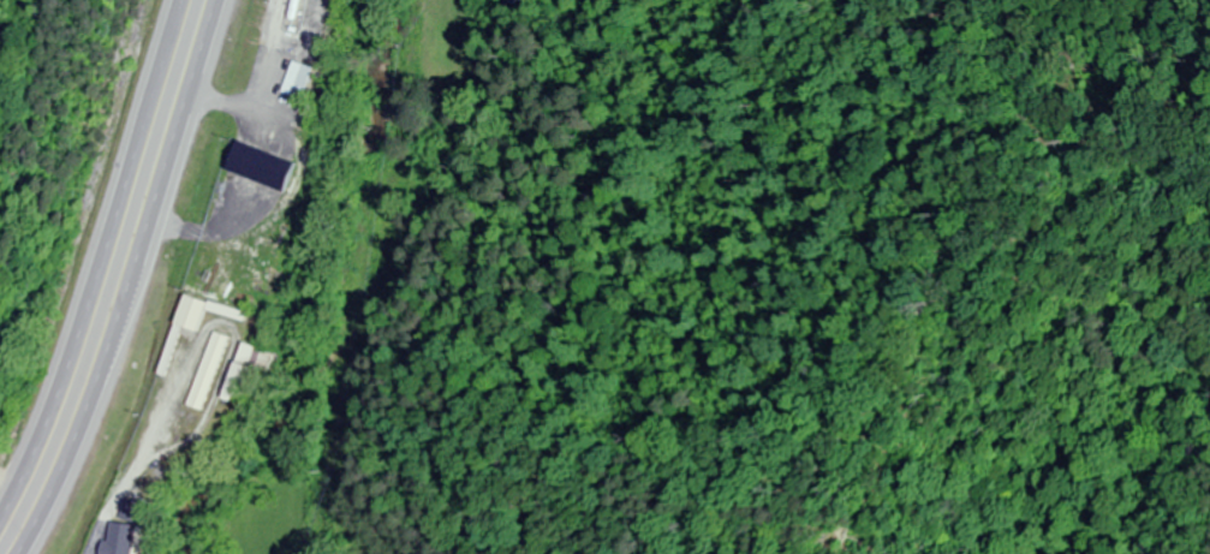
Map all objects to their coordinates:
building: (298, 81)
road: (97, 260)
road: (136, 281)
building: (249, 370)
building: (211, 373)
building: (121, 538)

